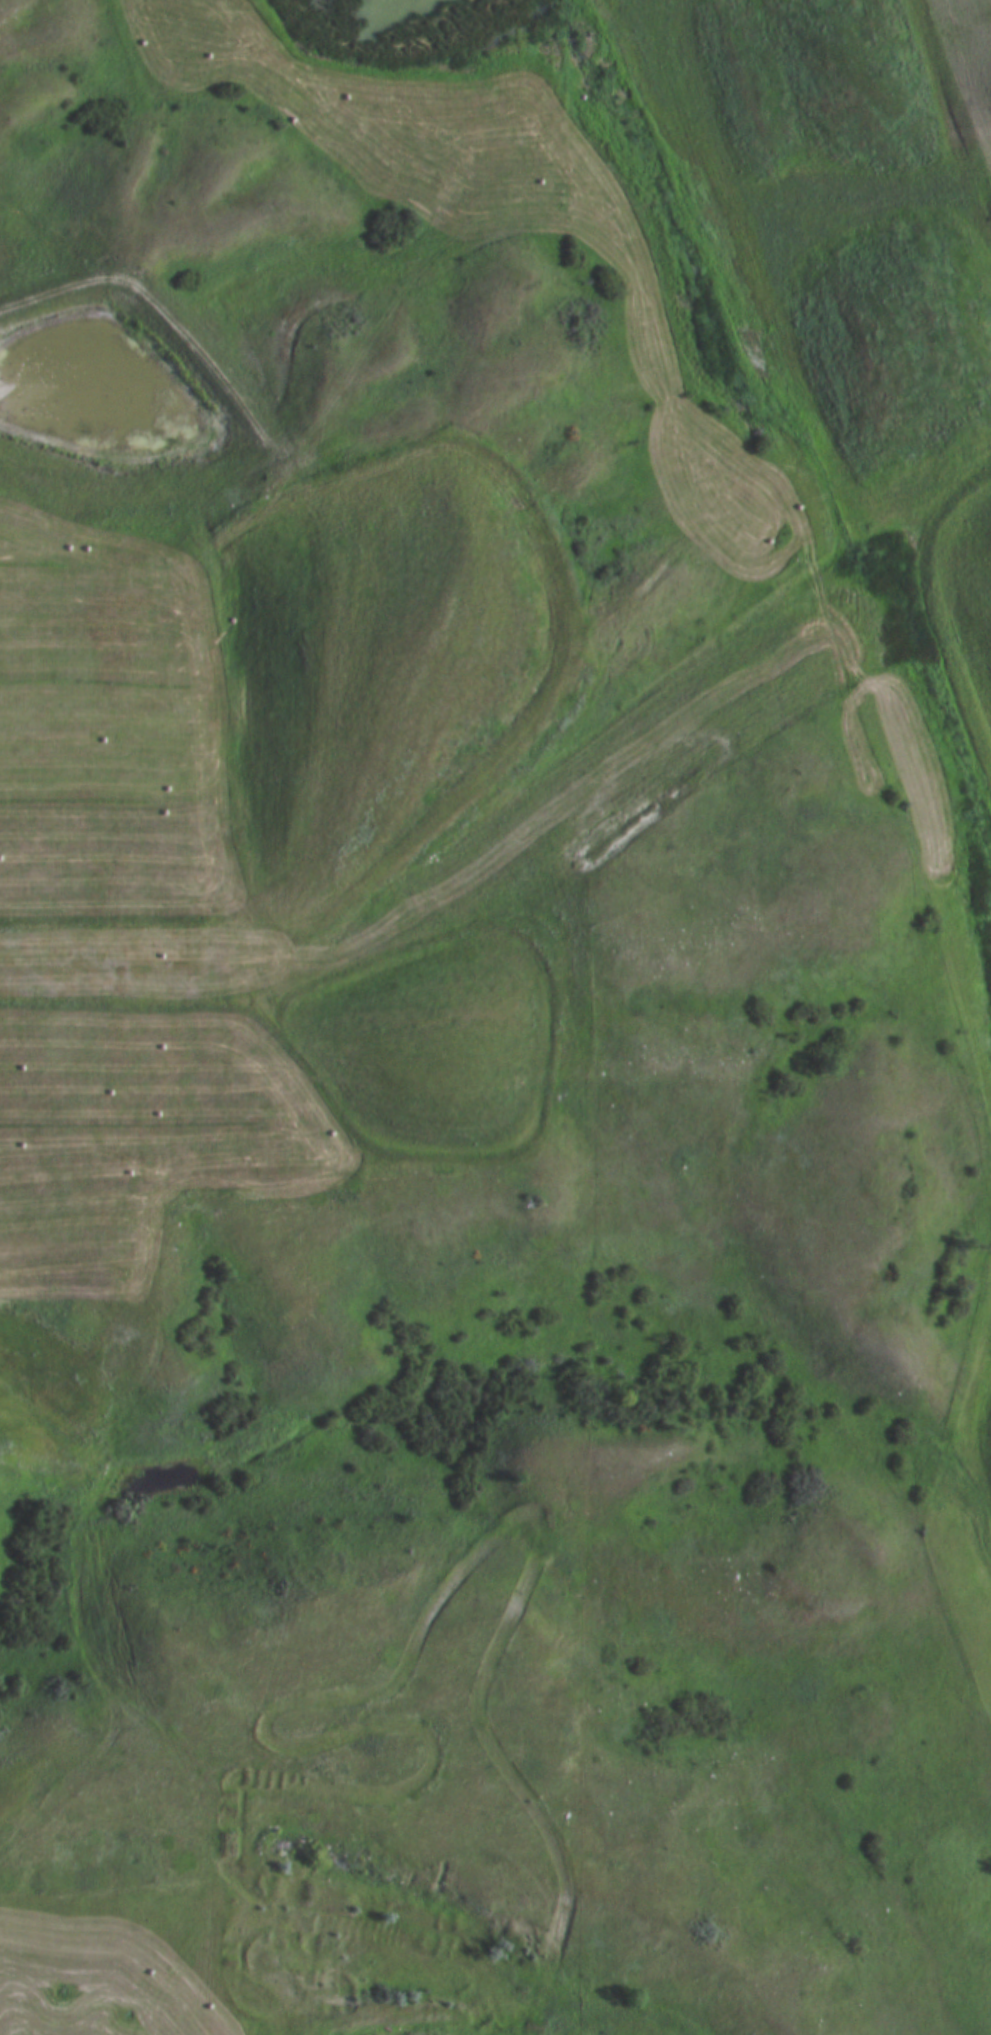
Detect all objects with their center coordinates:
quarry: (212, 780)
road: (196, 1994)

